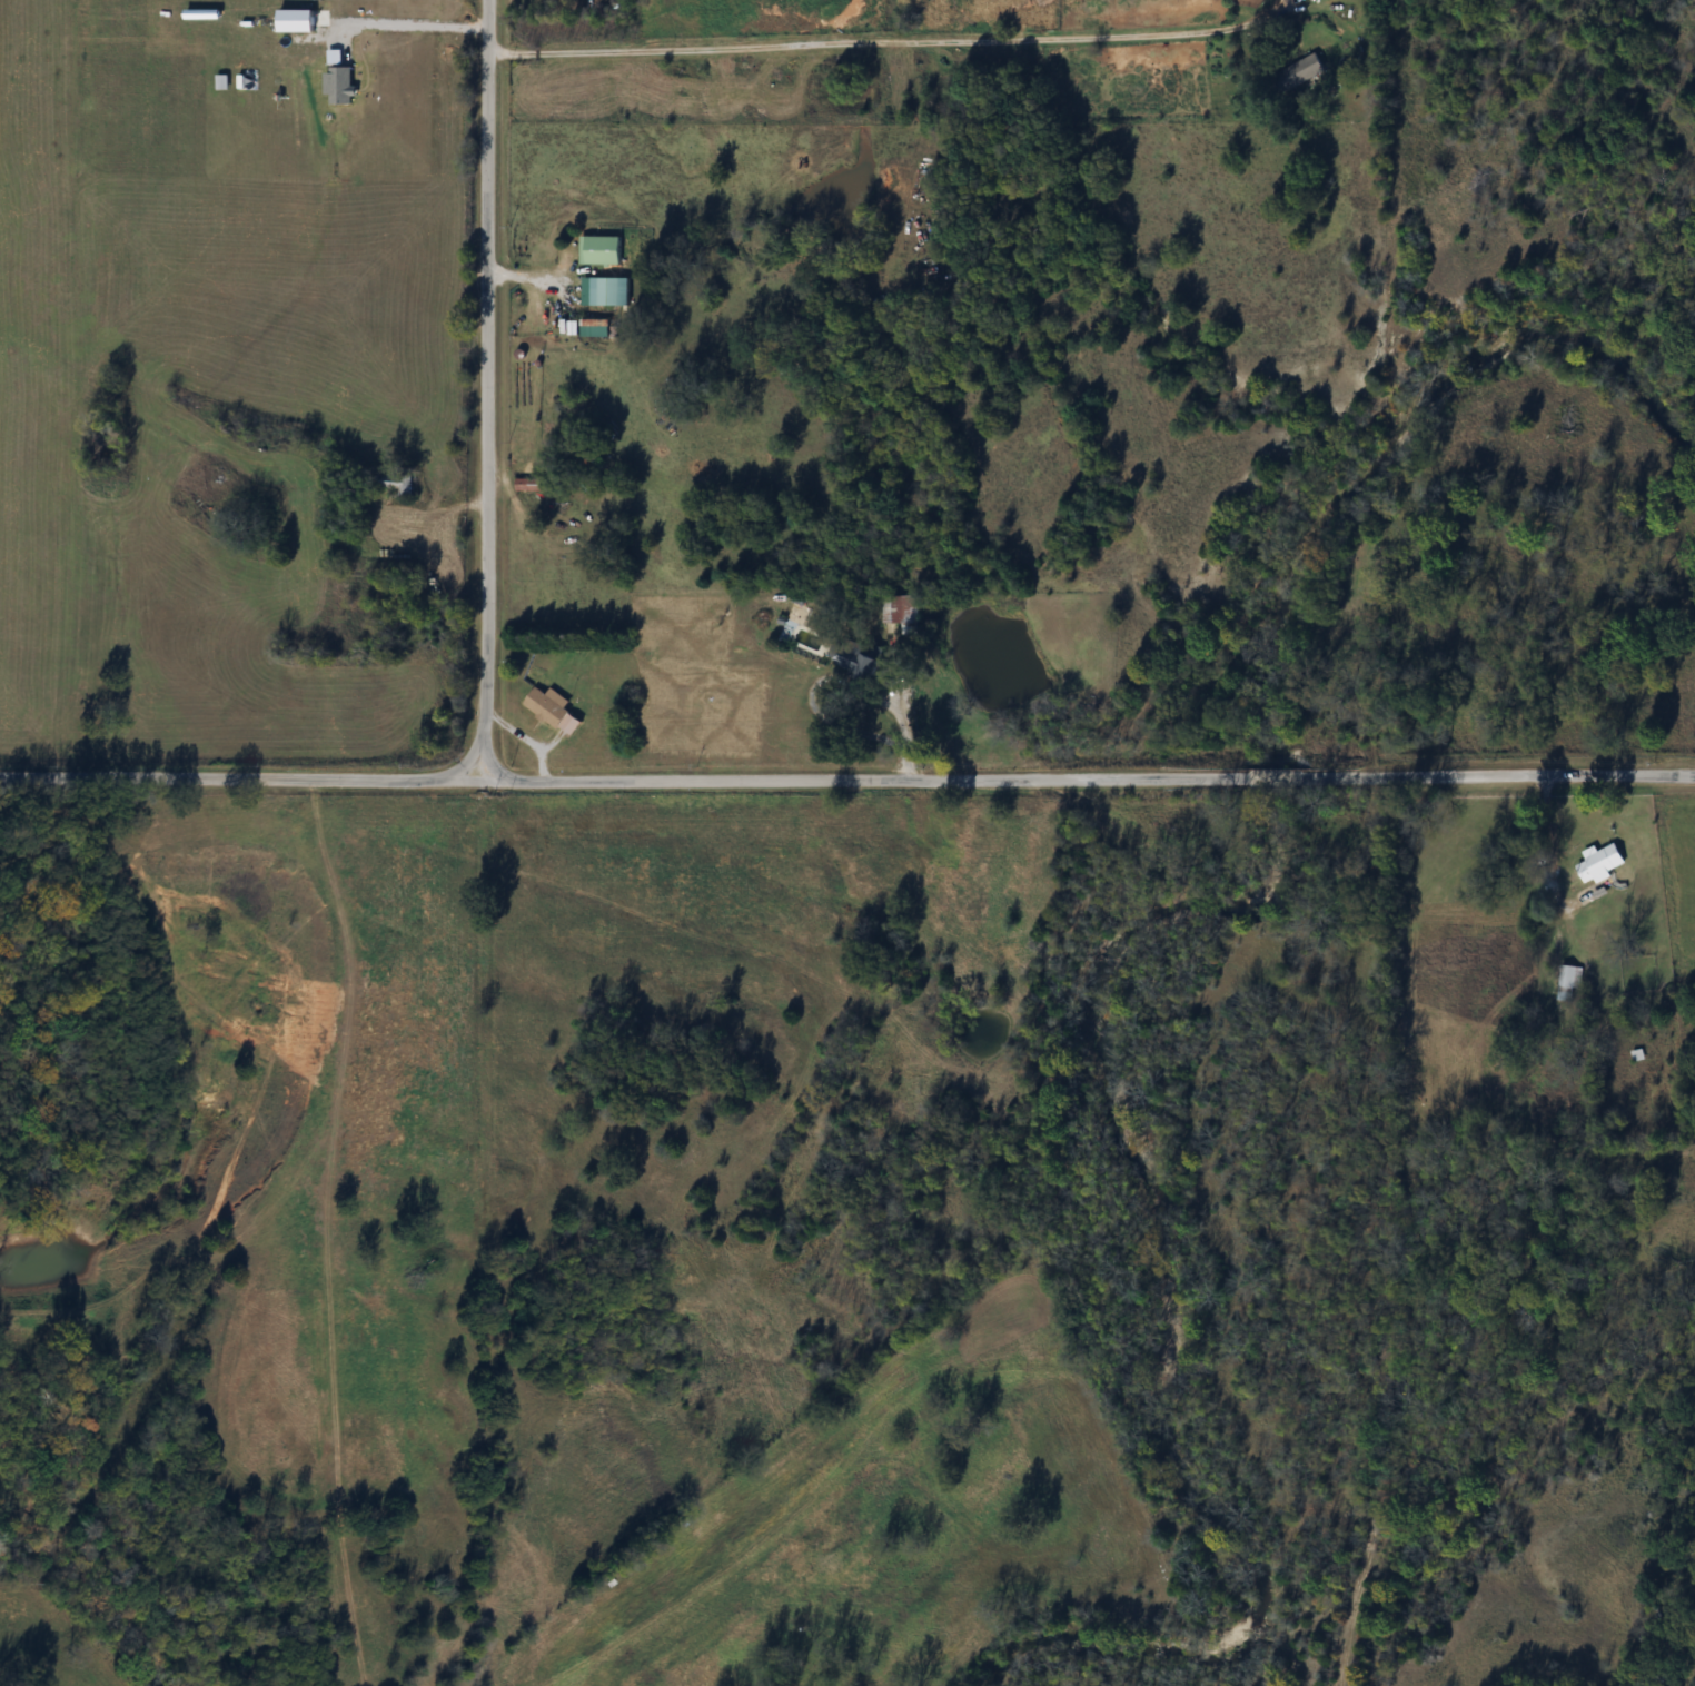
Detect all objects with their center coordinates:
road: (896, 43)
building: (1296, 75)
building: (601, 250)
building: (609, 291)
road: (488, 393)
building: (396, 483)
building: (890, 605)
building: (856, 658)
building: (553, 710)
road: (896, 710)
road: (847, 784)
building: (1599, 865)
building: (1569, 983)

